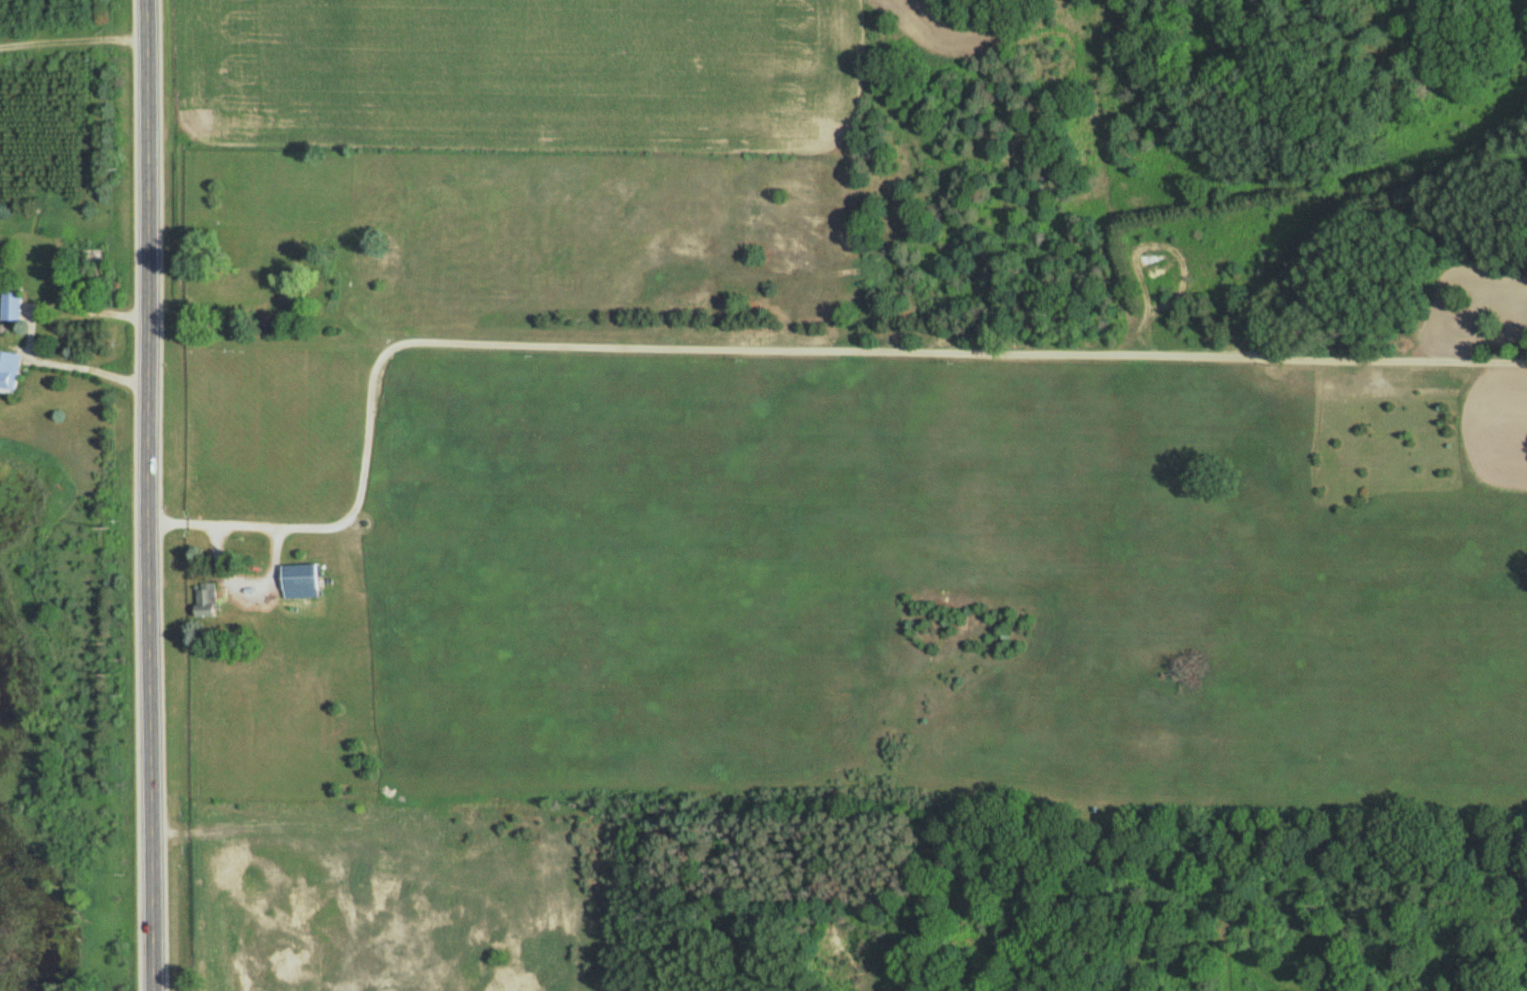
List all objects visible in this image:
building: (13, 305)
road: (766, 359)
building: (11, 369)
road: (154, 495)
building: (306, 576)
building: (210, 599)

